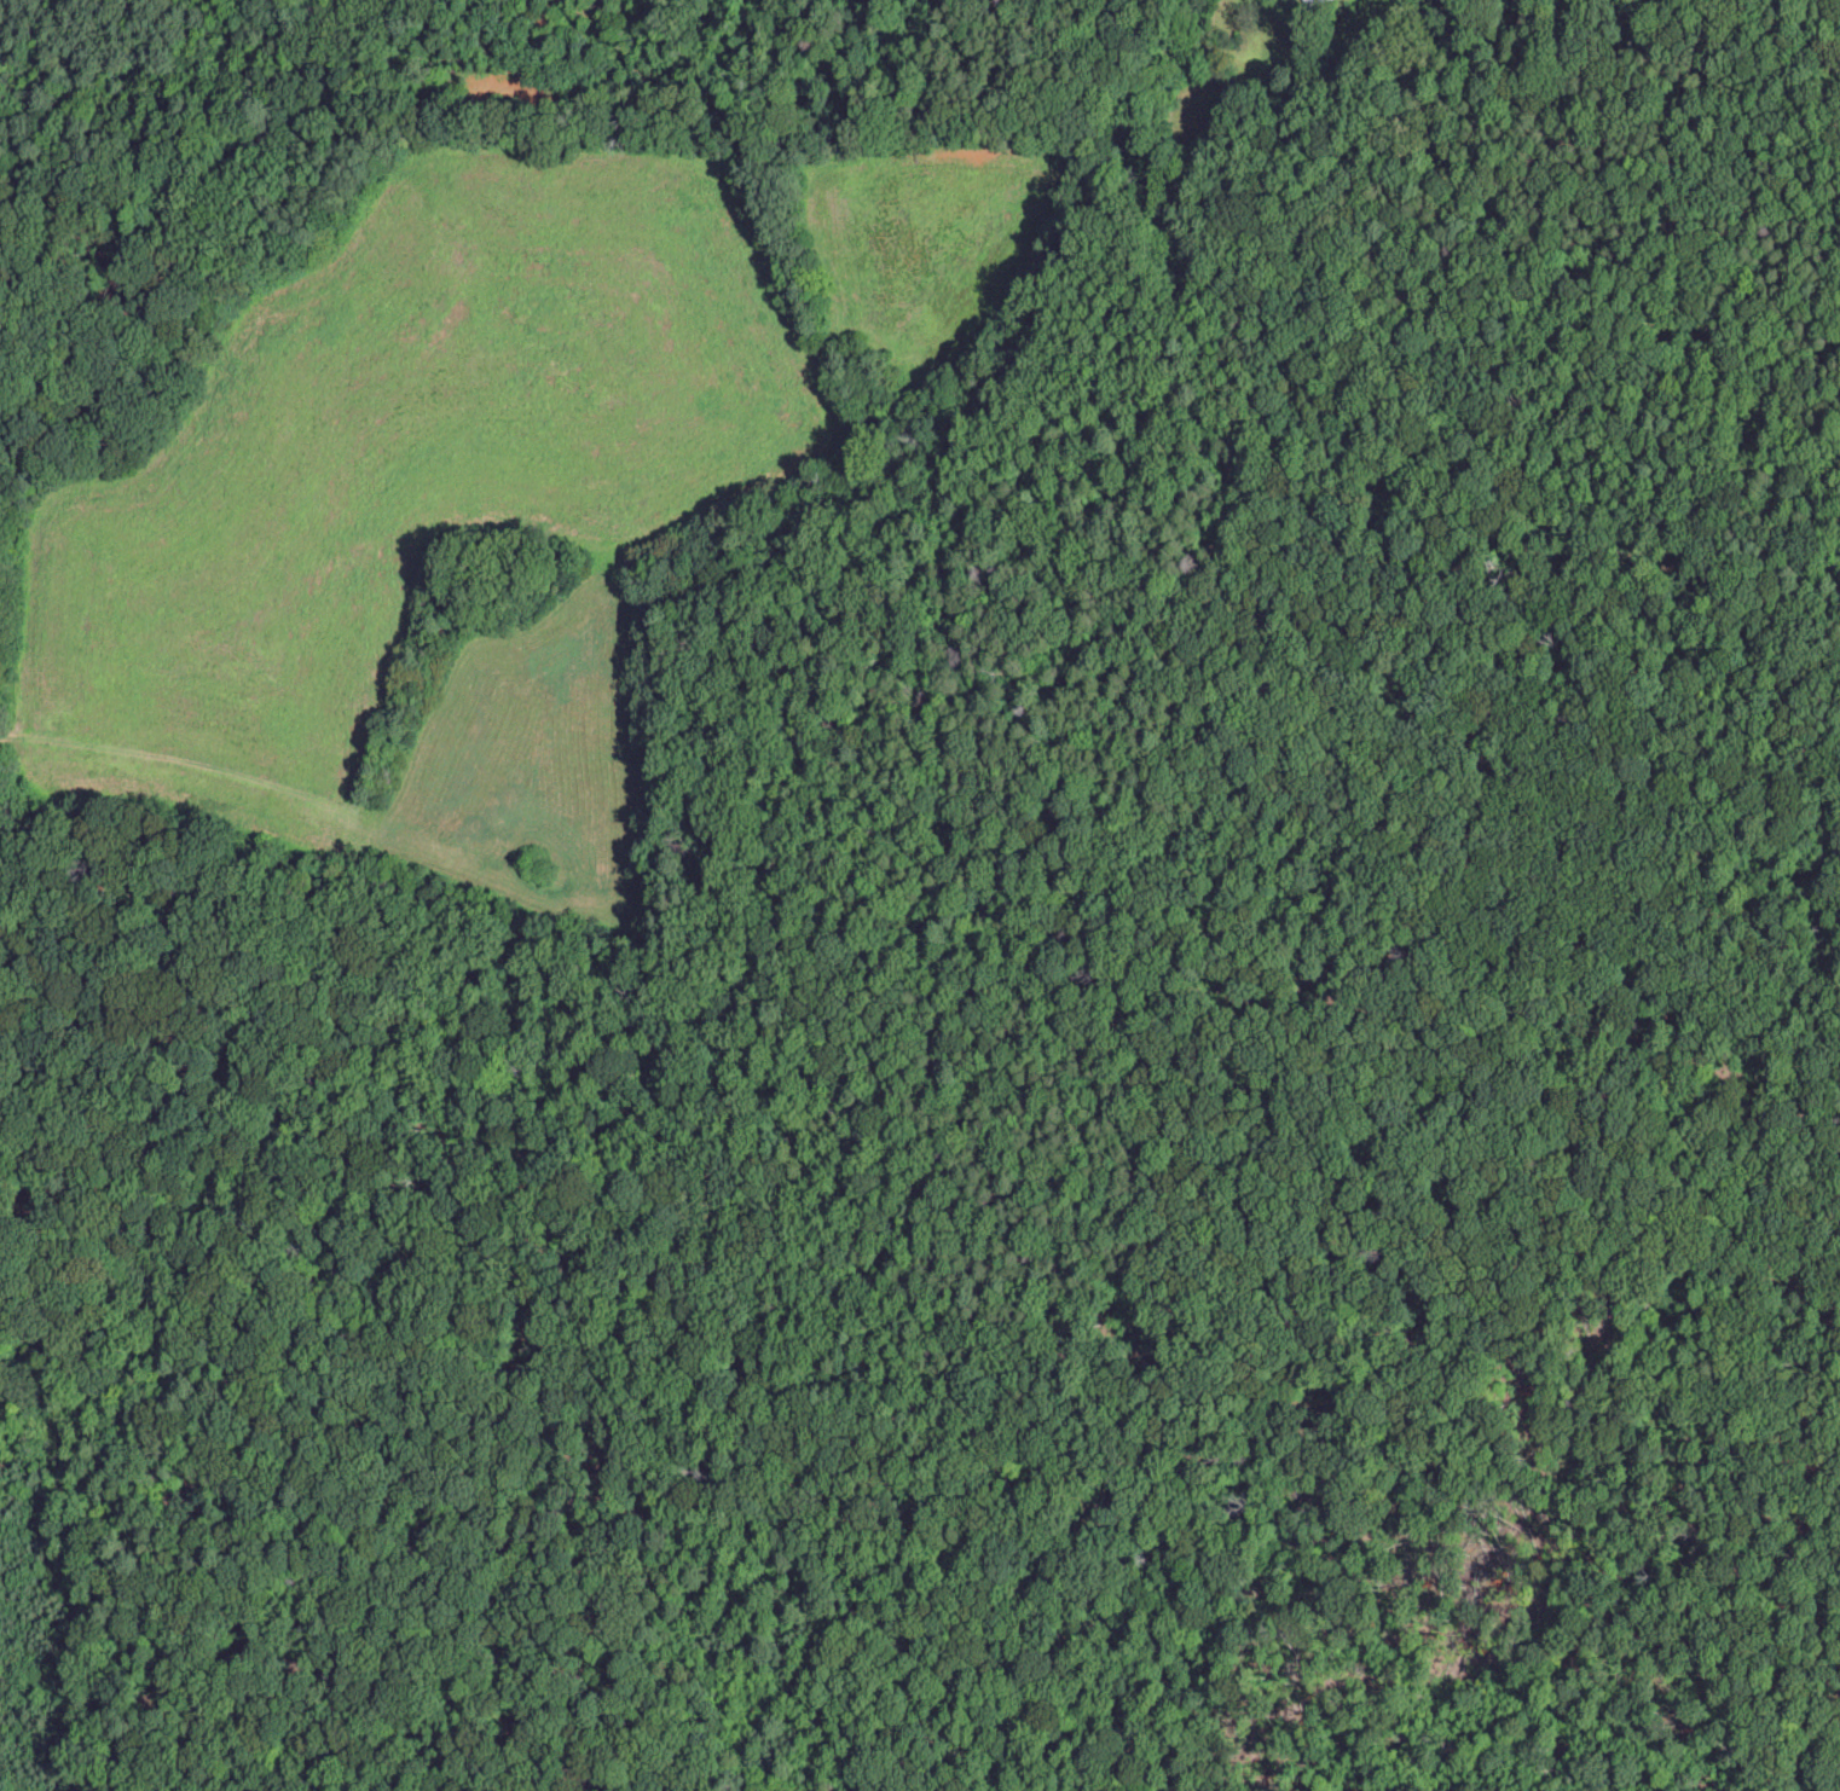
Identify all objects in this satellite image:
road: (1268, 1)

